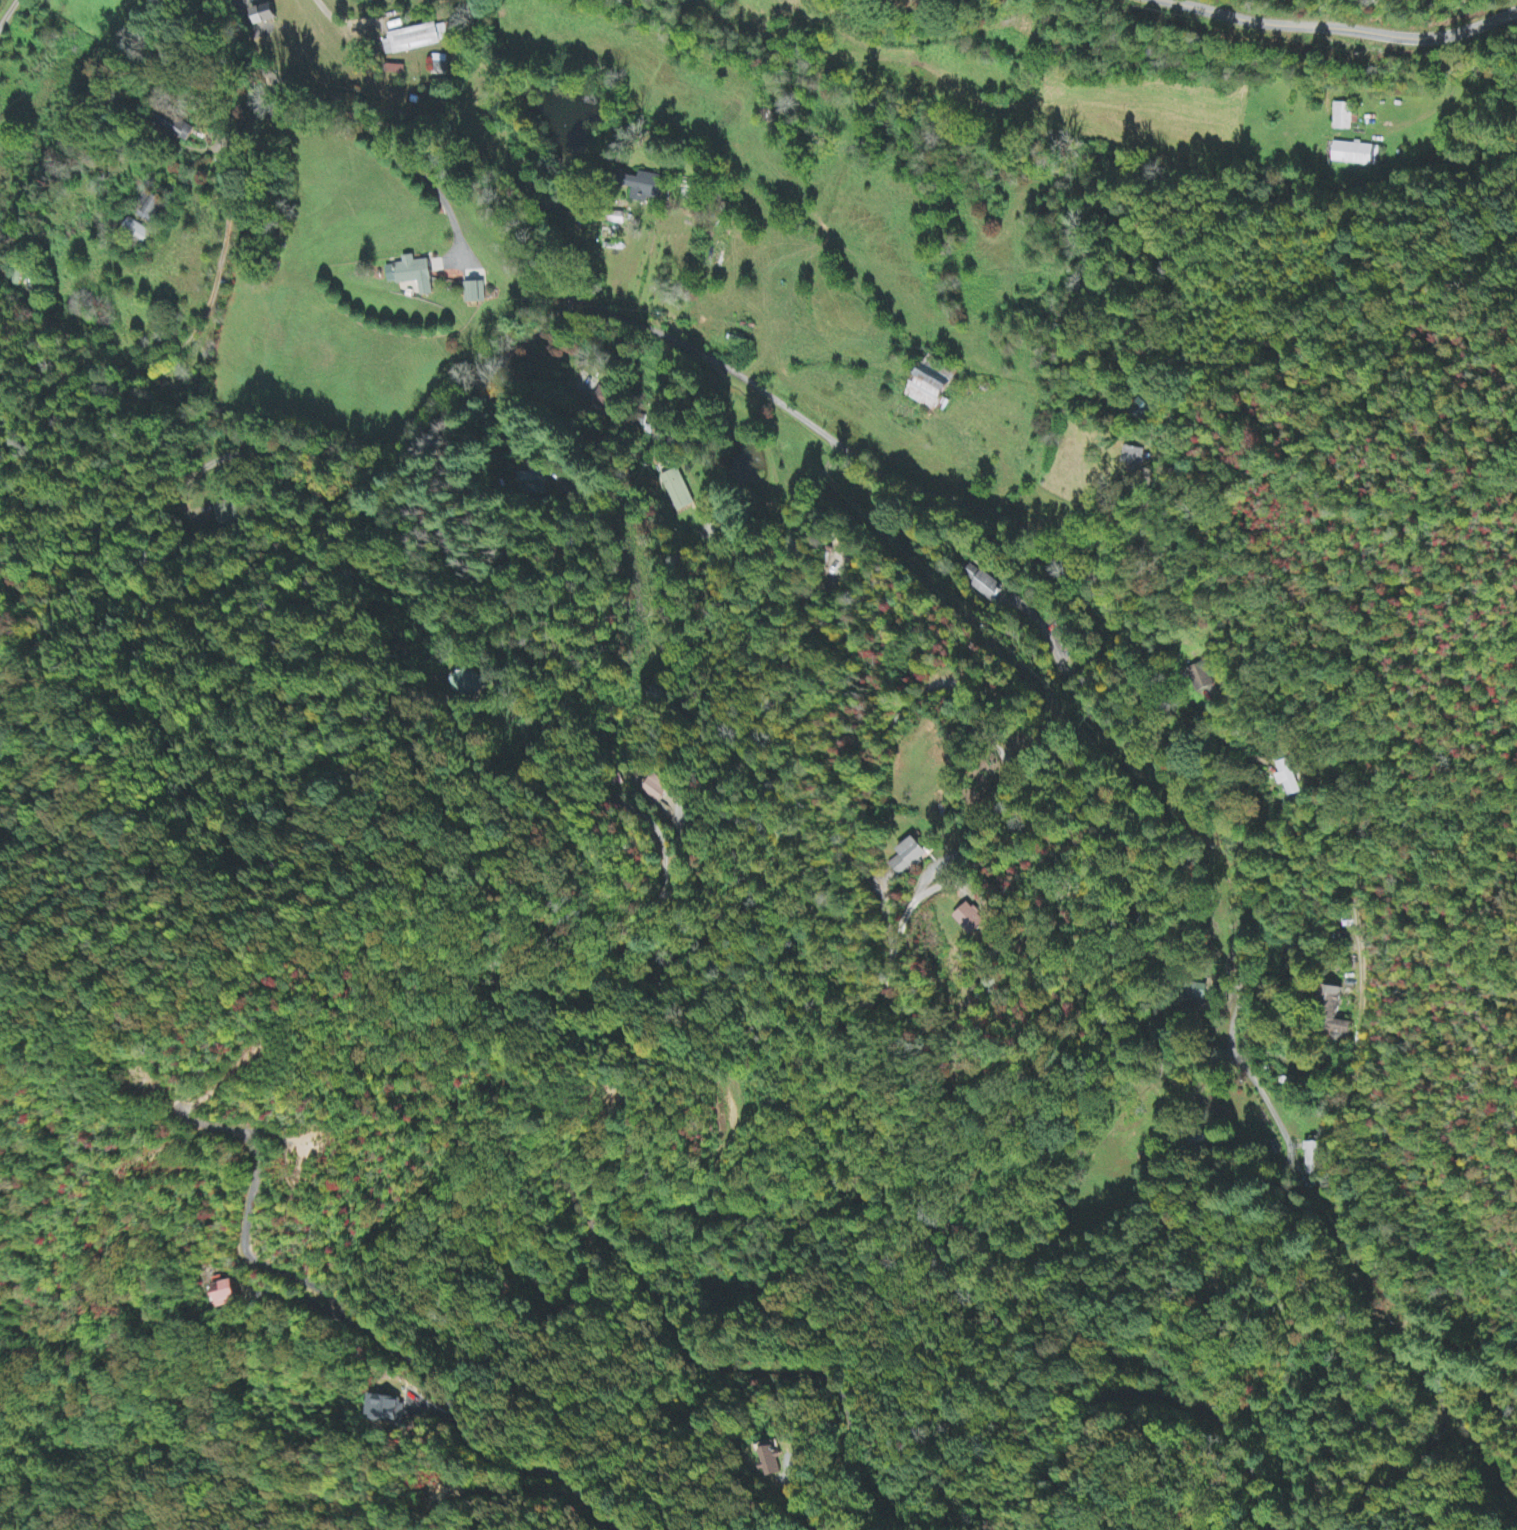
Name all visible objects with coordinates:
road: (8, 12)
building: (264, 15)
road: (1419, 38)
building: (417, 39)
road: (1342, 39)
building: (439, 65)
building: (1342, 117)
road: (254, 118)
building: (177, 132)
road: (184, 145)
building: (1356, 154)
road: (202, 166)
road: (422, 176)
building: (648, 188)
building: (149, 208)
building: (136, 232)
building: (412, 275)
building: (475, 294)
road: (538, 329)
road: (795, 358)
building: (165, 386)
building: (929, 391)
building: (608, 399)
road: (936, 414)
building: (1134, 457)
road: (352, 465)
road: (894, 474)
building: (677, 490)
building: (228, 514)
building: (982, 584)
building: (1201, 678)
building: (470, 685)
road: (892, 726)
building: (1286, 779)
building: (657, 789)
building: (909, 857)
building: (974, 919)
building: (1196, 993)
building: (1336, 994)
building: (1341, 1029)
road: (1322, 1061)
road: (1278, 1104)
building: (1313, 1157)
road: (1085, 1161)
road: (1319, 1205)
building: (229, 1295)
road: (665, 1311)
road: (364, 1325)
road: (1152, 1394)
road: (1440, 1394)
building: (387, 1410)
building: (779, 1466)

